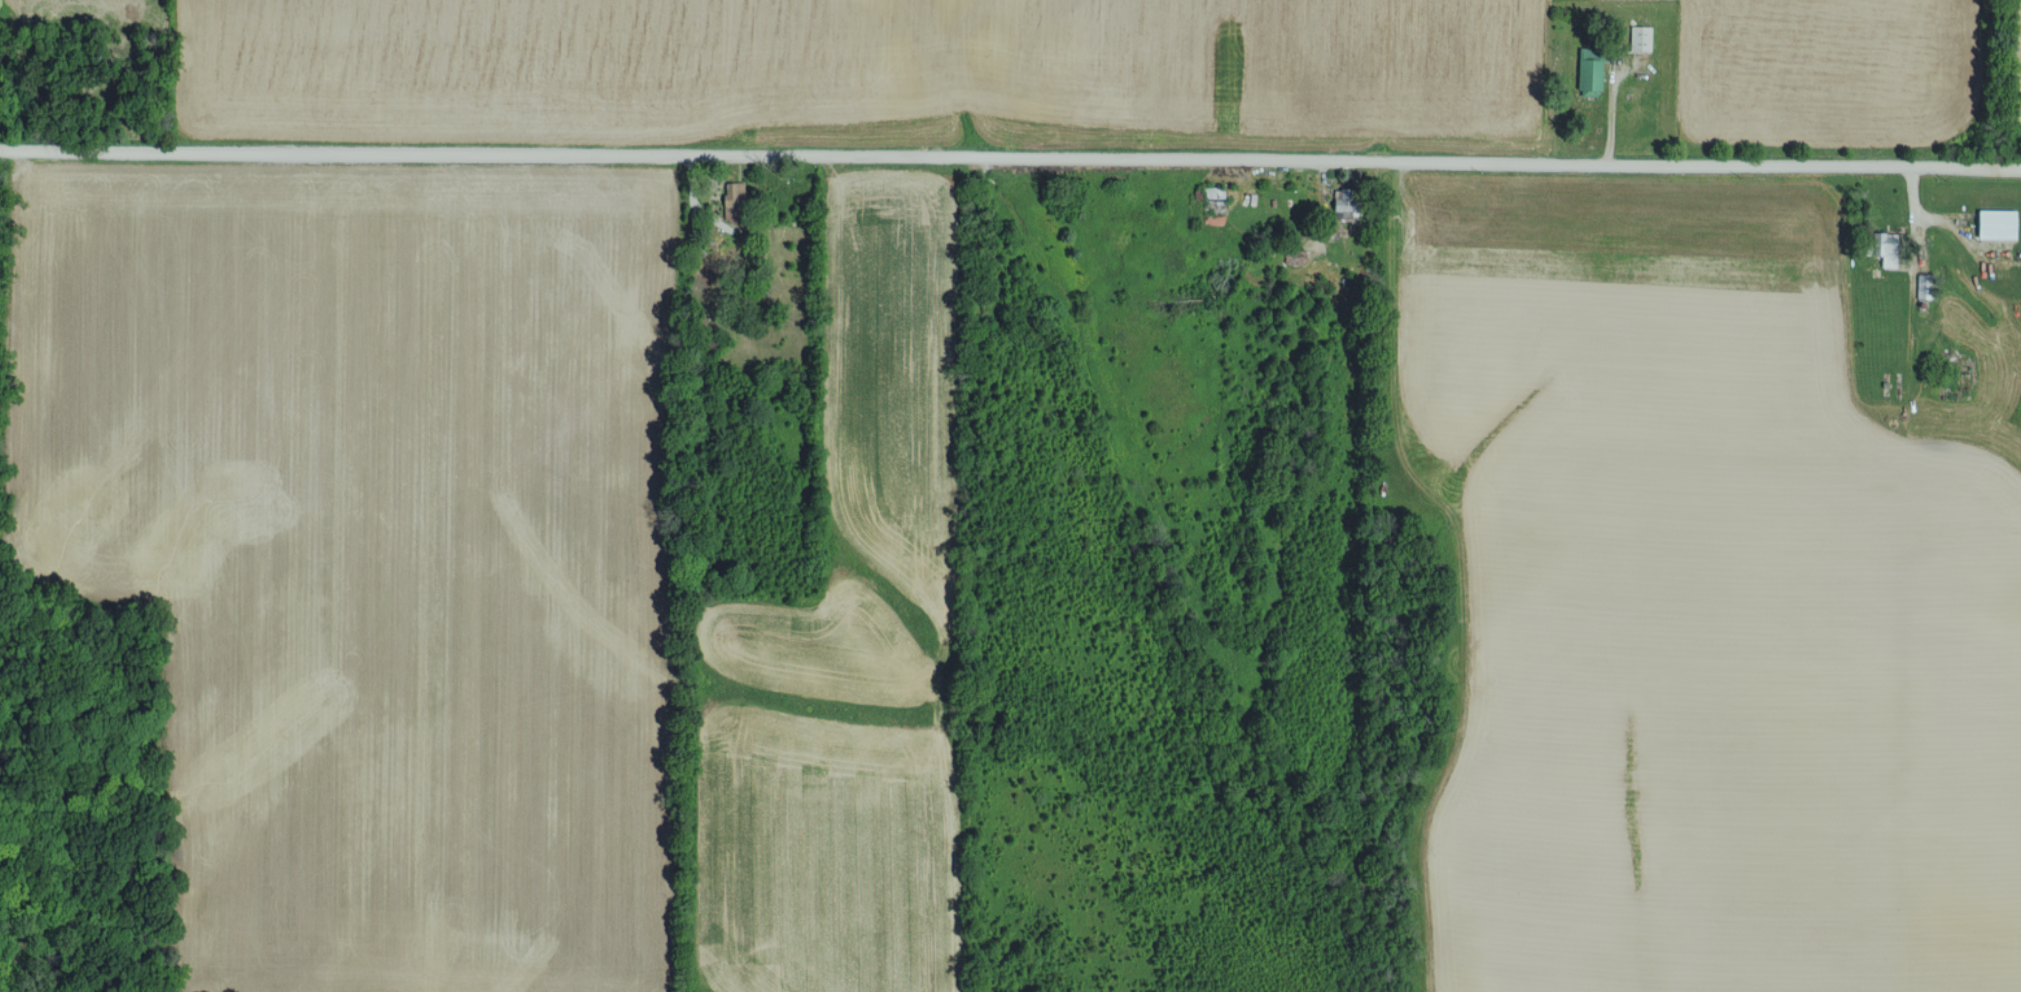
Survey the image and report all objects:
building: (1636, 40)
road: (1611, 98)
road: (1010, 145)
road: (1324, 180)
building: (731, 193)
road: (1914, 200)
road: (1957, 204)
road: (1950, 210)
road: (692, 216)
building: (1992, 224)

